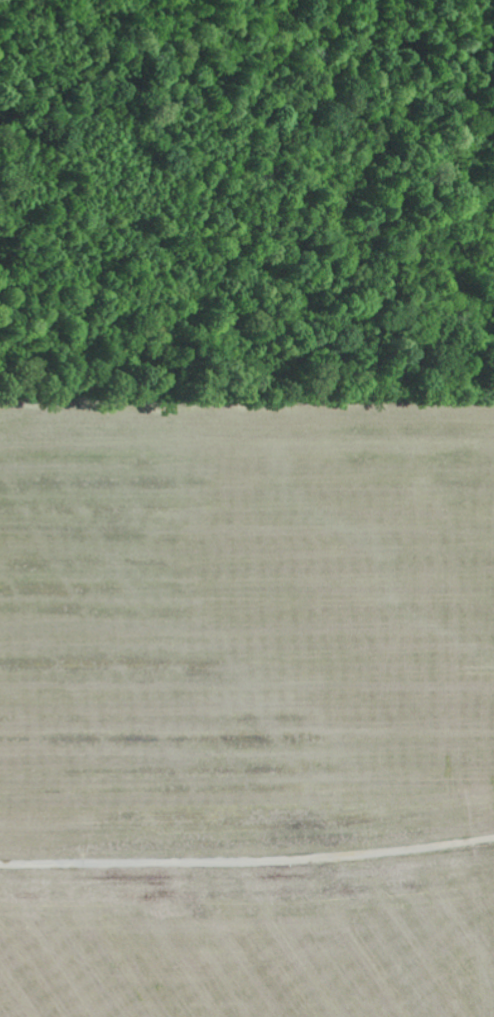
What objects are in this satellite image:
road: (247, 861)

